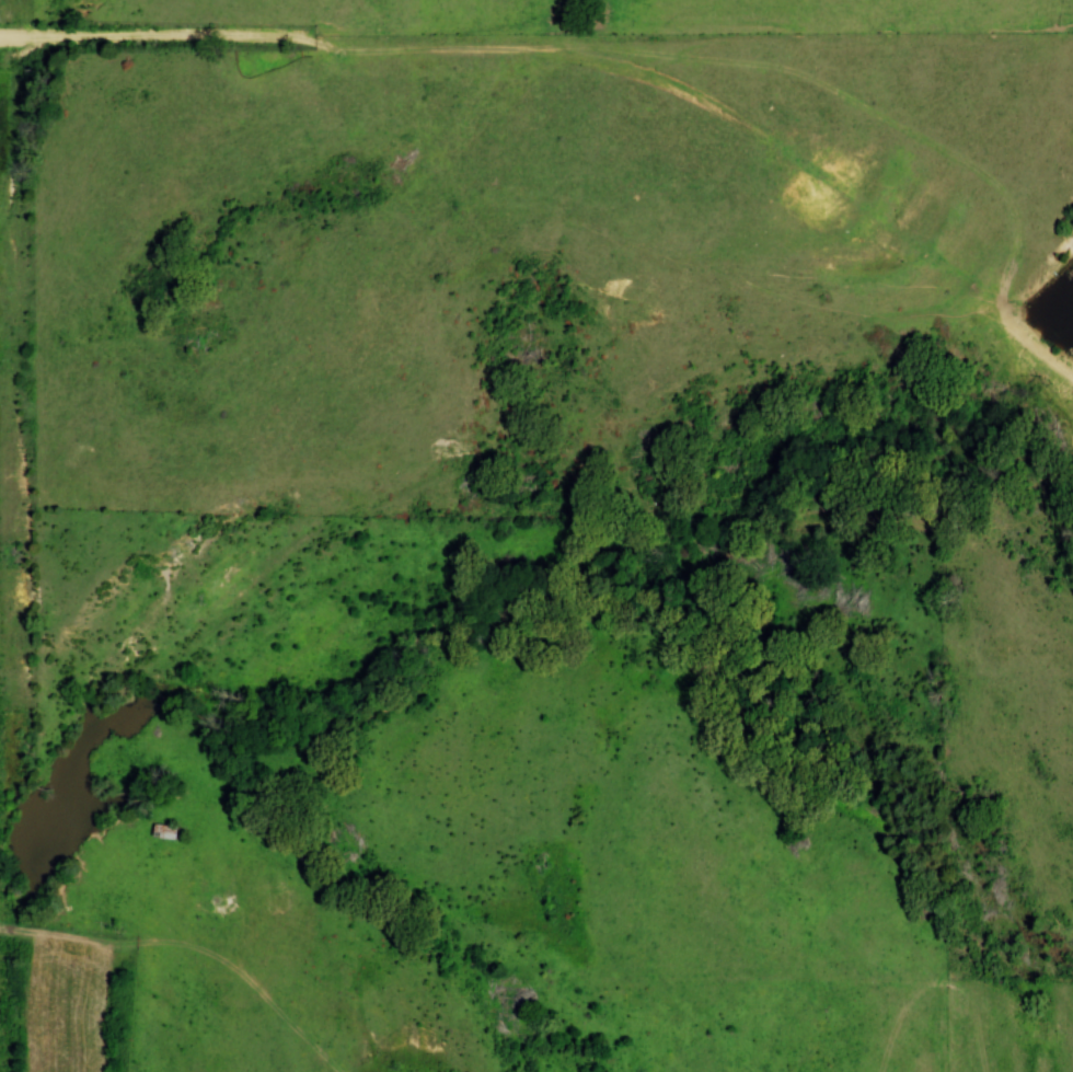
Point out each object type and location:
building: (165, 832)

